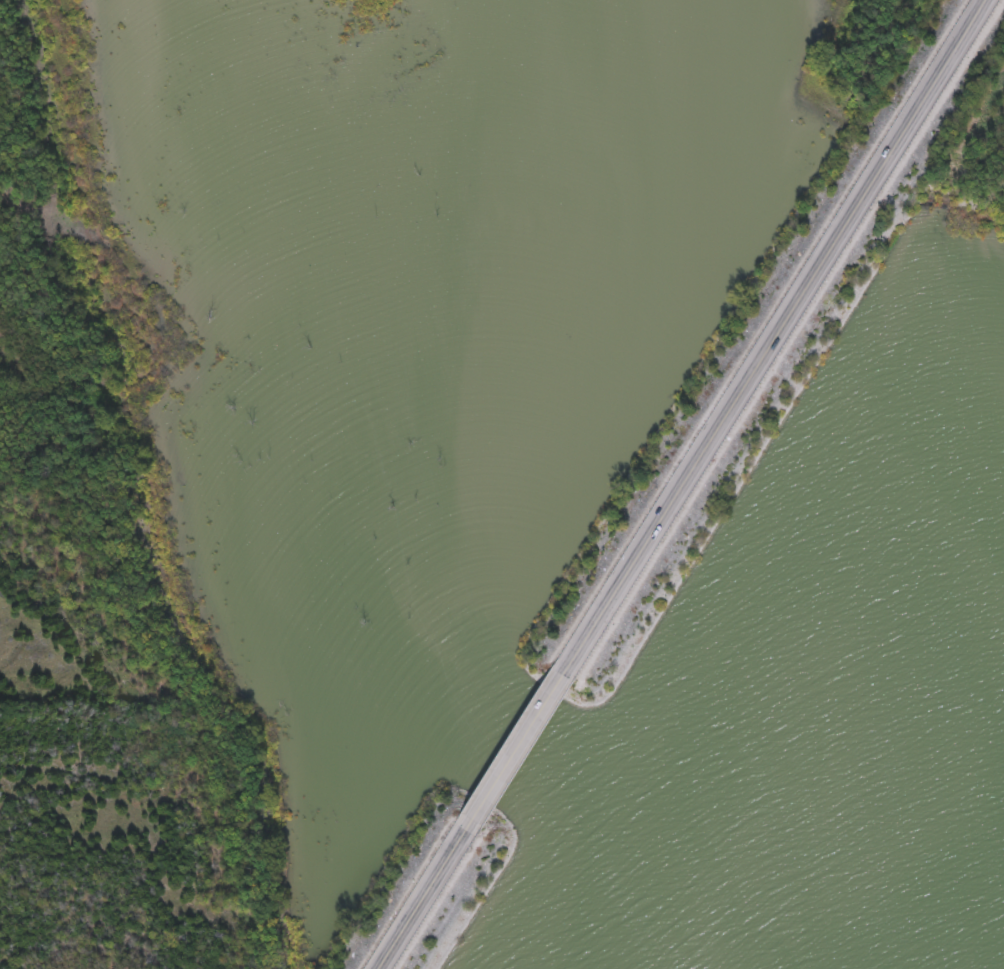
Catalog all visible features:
road: (671, 484)

